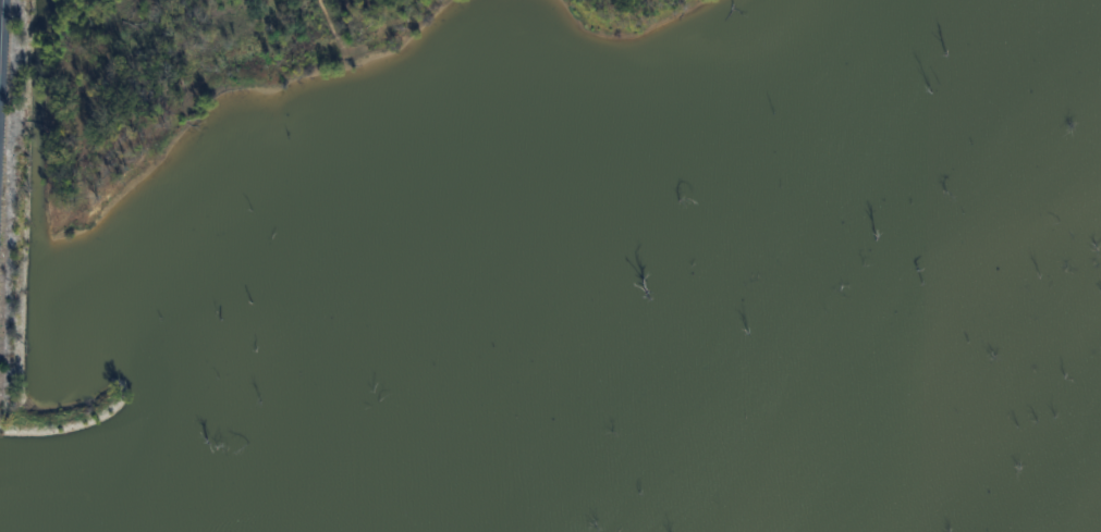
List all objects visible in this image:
building: (663, 300)
building: (739, 301)
building: (598, 356)
building: (307, 368)

